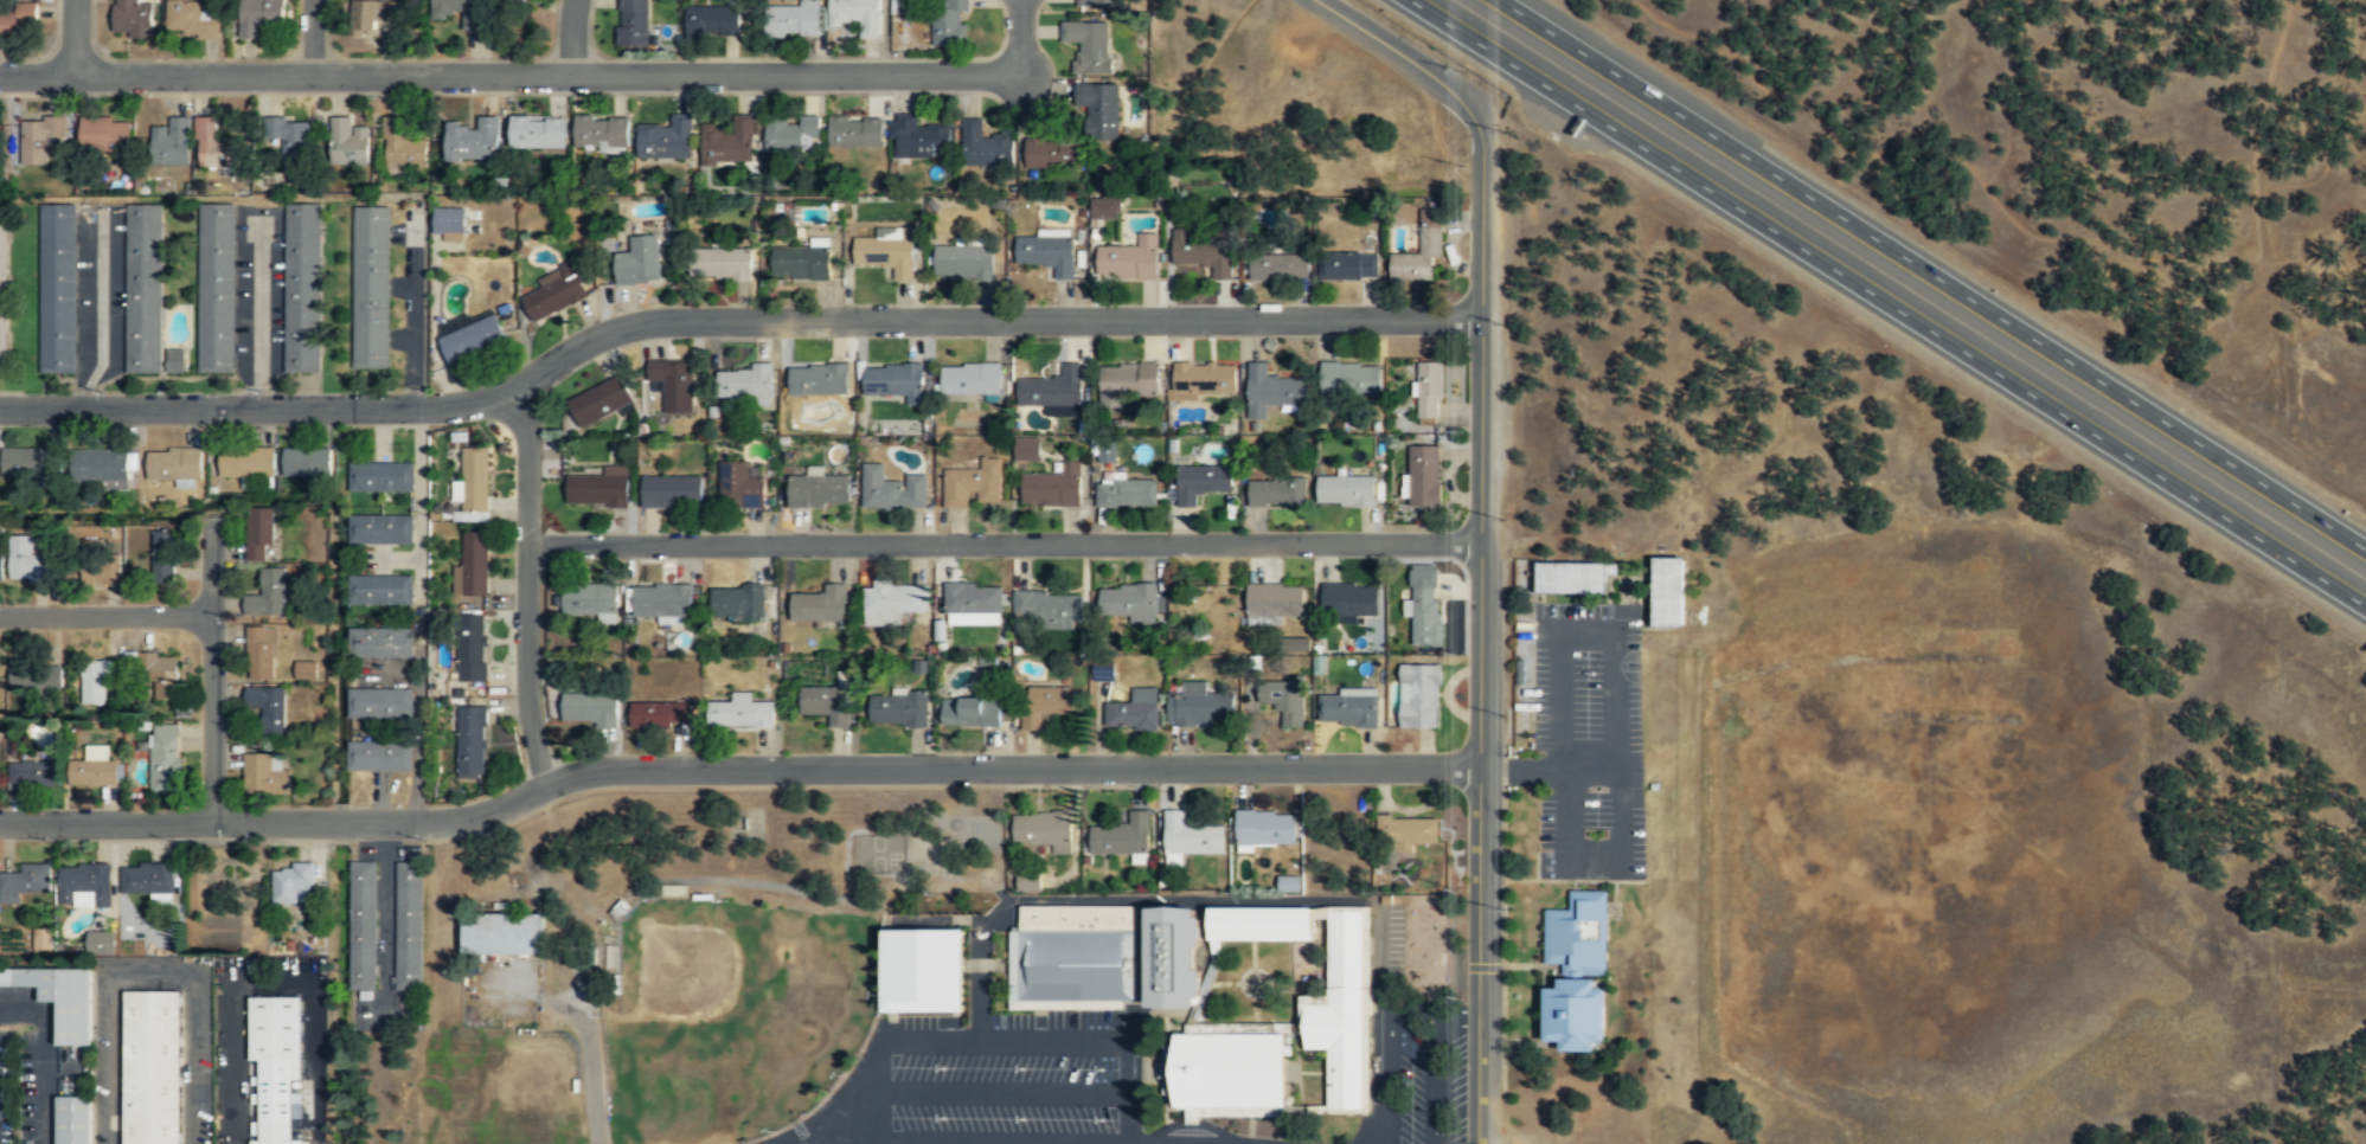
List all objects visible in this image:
building: (1098, 4)
building: (899, 6)
building: (462, 11)
building: (858, 14)
building: (259, 15)
building: (366, 15)
building: (15, 18)
building: (132, 19)
building: (793, 19)
building: (190, 20)
building: (712, 20)
building: (633, 23)
building: (950, 23)
road: (73, 37)
road: (313, 37)
road: (570, 37)
building: (1089, 45)
road: (544, 73)
building: (1099, 110)
building: (539, 130)
building: (855, 131)
building: (602, 133)
building: (790, 135)
building: (104, 136)
building: (39, 137)
building: (921, 139)
building: (289, 140)
building: (474, 140)
building: (666, 140)
building: (171, 142)
building: (729, 142)
building: (347, 143)
building: (402, 144)
building: (214, 146)
building: (985, 146)
building: (1052, 154)
building: (1103, 206)
building: (447, 219)
building: (1421, 251)
building: (1204, 253)
building: (886, 255)
building: (1047, 255)
building: (1130, 259)
building: (639, 262)
building: (963, 262)
building: (801, 263)
building: (722, 265)
building: (1280, 268)
building: (1349, 268)
road: (1931, 275)
building: (372, 287)
building: (58, 288)
building: (217, 288)
building: (302, 288)
building: (4, 289)
building: (143, 289)
building: (556, 291)
road: (1887, 303)
road: (97, 310)
road: (257, 313)
road: (996, 317)
building: (472, 338)
building: (175, 360)
building: (1205, 378)
building: (972, 379)
building: (817, 380)
building: (1351, 380)
building: (893, 381)
building: (1128, 381)
building: (748, 383)
building: (673, 384)
building: (1052, 388)
building: (1271, 391)
building: (1429, 393)
building: (599, 400)
road: (265, 406)
street lamp: (1468, 429)
building: (1025, 449)
building: (1105, 452)
building: (307, 461)
building: (246, 462)
building: (31, 463)
building: (173, 464)
building: (101, 470)
building: (381, 476)
building: (1424, 476)
building: (475, 480)
building: (1201, 482)
building: (973, 486)
building: (739, 487)
building: (1053, 487)
building: (599, 488)
building: (819, 490)
building: (891, 490)
building: (1347, 490)
building: (671, 491)
building: (1278, 493)
building: (1124, 494)
building: (380, 529)
road: (1481, 531)
building: (259, 535)
road: (1004, 542)
building: (163, 555)
building: (27, 563)
building: (101, 565)
building: (472, 566)
building: (1, 568)
building: (1570, 576)
road: (527, 584)
building: (380, 590)
building: (1667, 590)
building: (268, 595)
building: (896, 598)
building: (590, 599)
building: (973, 599)
building: (662, 600)
building: (1349, 600)
building: (738, 602)
building: (1128, 602)
building: (1275, 602)
building: (1424, 604)
building: (821, 605)
building: (1049, 611)
road: (105, 613)
building: (380, 643)
building: (1295, 644)
building: (472, 648)
building: (262, 654)
street lamp: (1466, 654)
building: (159, 667)
building: (304, 670)
road: (212, 673)
building: (36, 675)
building: (97, 680)
building: (1421, 695)
building: (1284, 700)
building: (826, 702)
building: (379, 705)
building: (1045, 705)
building: (1200, 706)
building: (268, 707)
building: (591, 708)
building: (898, 708)
building: (1348, 711)
building: (742, 712)
building: (972, 712)
building: (1133, 712)
building: (661, 714)
parking lot: (1586, 739)
building: (472, 741)
building: (379, 756)
building: (166, 757)
building: (94, 767)
road: (735, 769)
building: (34, 772)
building: (267, 773)
building: (1267, 828)
building: (1406, 830)
building: (1043, 833)
building: (1190, 836)
building: (1122, 837)
street lamp: (427, 840)
street lamp: (58, 841)
street lamp: (254, 841)
building: (148, 879)
road: (727, 879)
building: (25, 881)
building: (291, 882)
building: (1028, 882)
building: (1288, 883)
building: (85, 885)
road: (1179, 900)
building: (1265, 924)
building: (364, 925)
building: (410, 925)
building: (1578, 932)
building: (504, 933)
building: (40, 938)
building: (101, 943)
building: (1179, 957)
building: (1072, 958)
road: (1289, 960)
road: (1479, 966)
building: (919, 971)
road: (1139, 972)
road: (152, 973)
road: (271, 981)
road: (1274, 981)
road: (1253, 982)
road: (384, 984)
road: (526, 990)
road: (1206, 990)
building: (60, 997)
building: (1342, 1009)
building: (1573, 1013)
road: (1416, 1016)
park: (732, 1017)
road: (1457, 1023)
road: (1245, 1027)
road: (1004, 1040)
building: (277, 1062)
road: (591, 1066)
building: (153, 1067)
street lamp: (942, 1067)
street lamp: (1021, 1067)
street lamp: (1101, 1068)
road: (1296, 1068)
building: (1235, 1071)
road: (1313, 1071)
park: (701, 1076)
road: (1389, 1080)
parking lot: (1101, 1082)
road: (1437, 1084)
road: (876, 1091)
road: (1001, 1091)
road: (1368, 1091)
road: (1126, 1092)
road: (845, 1106)
street lamp: (942, 1117)
street lamp: (1021, 1118)
building: (75, 1119)
street lamp: (1101, 1119)
road: (1187, 1124)
road: (1250, 1130)
road: (1001, 1143)
road: (1131, 1143)

